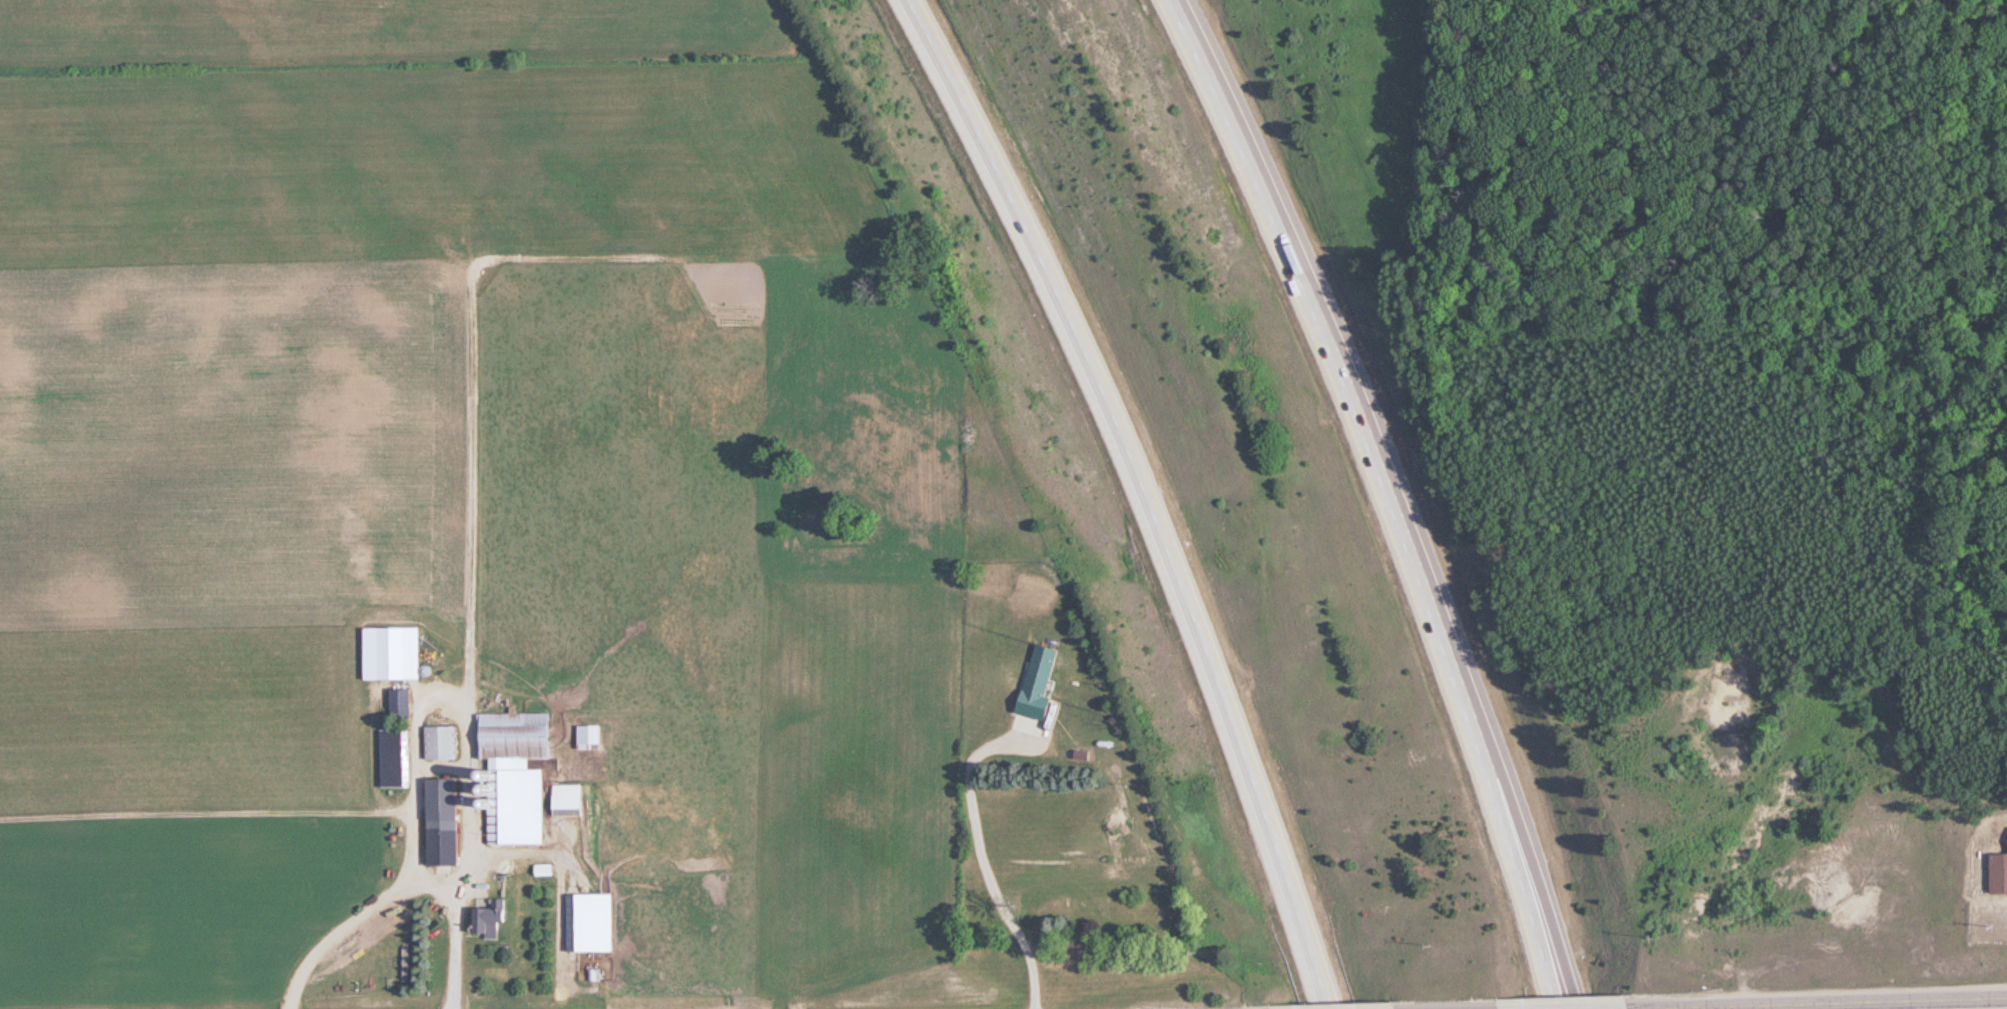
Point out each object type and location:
road: (1138, 493)
road: (1389, 496)
building: (1047, 670)
building: (405, 705)
building: (523, 735)
building: (597, 736)
building: (447, 743)
building: (400, 758)
building: (577, 796)
building: (447, 826)
building: (1999, 871)
building: (496, 921)
building: (596, 922)
road: (1567, 963)
road: (1843, 1001)
road: (1652, 1008)

